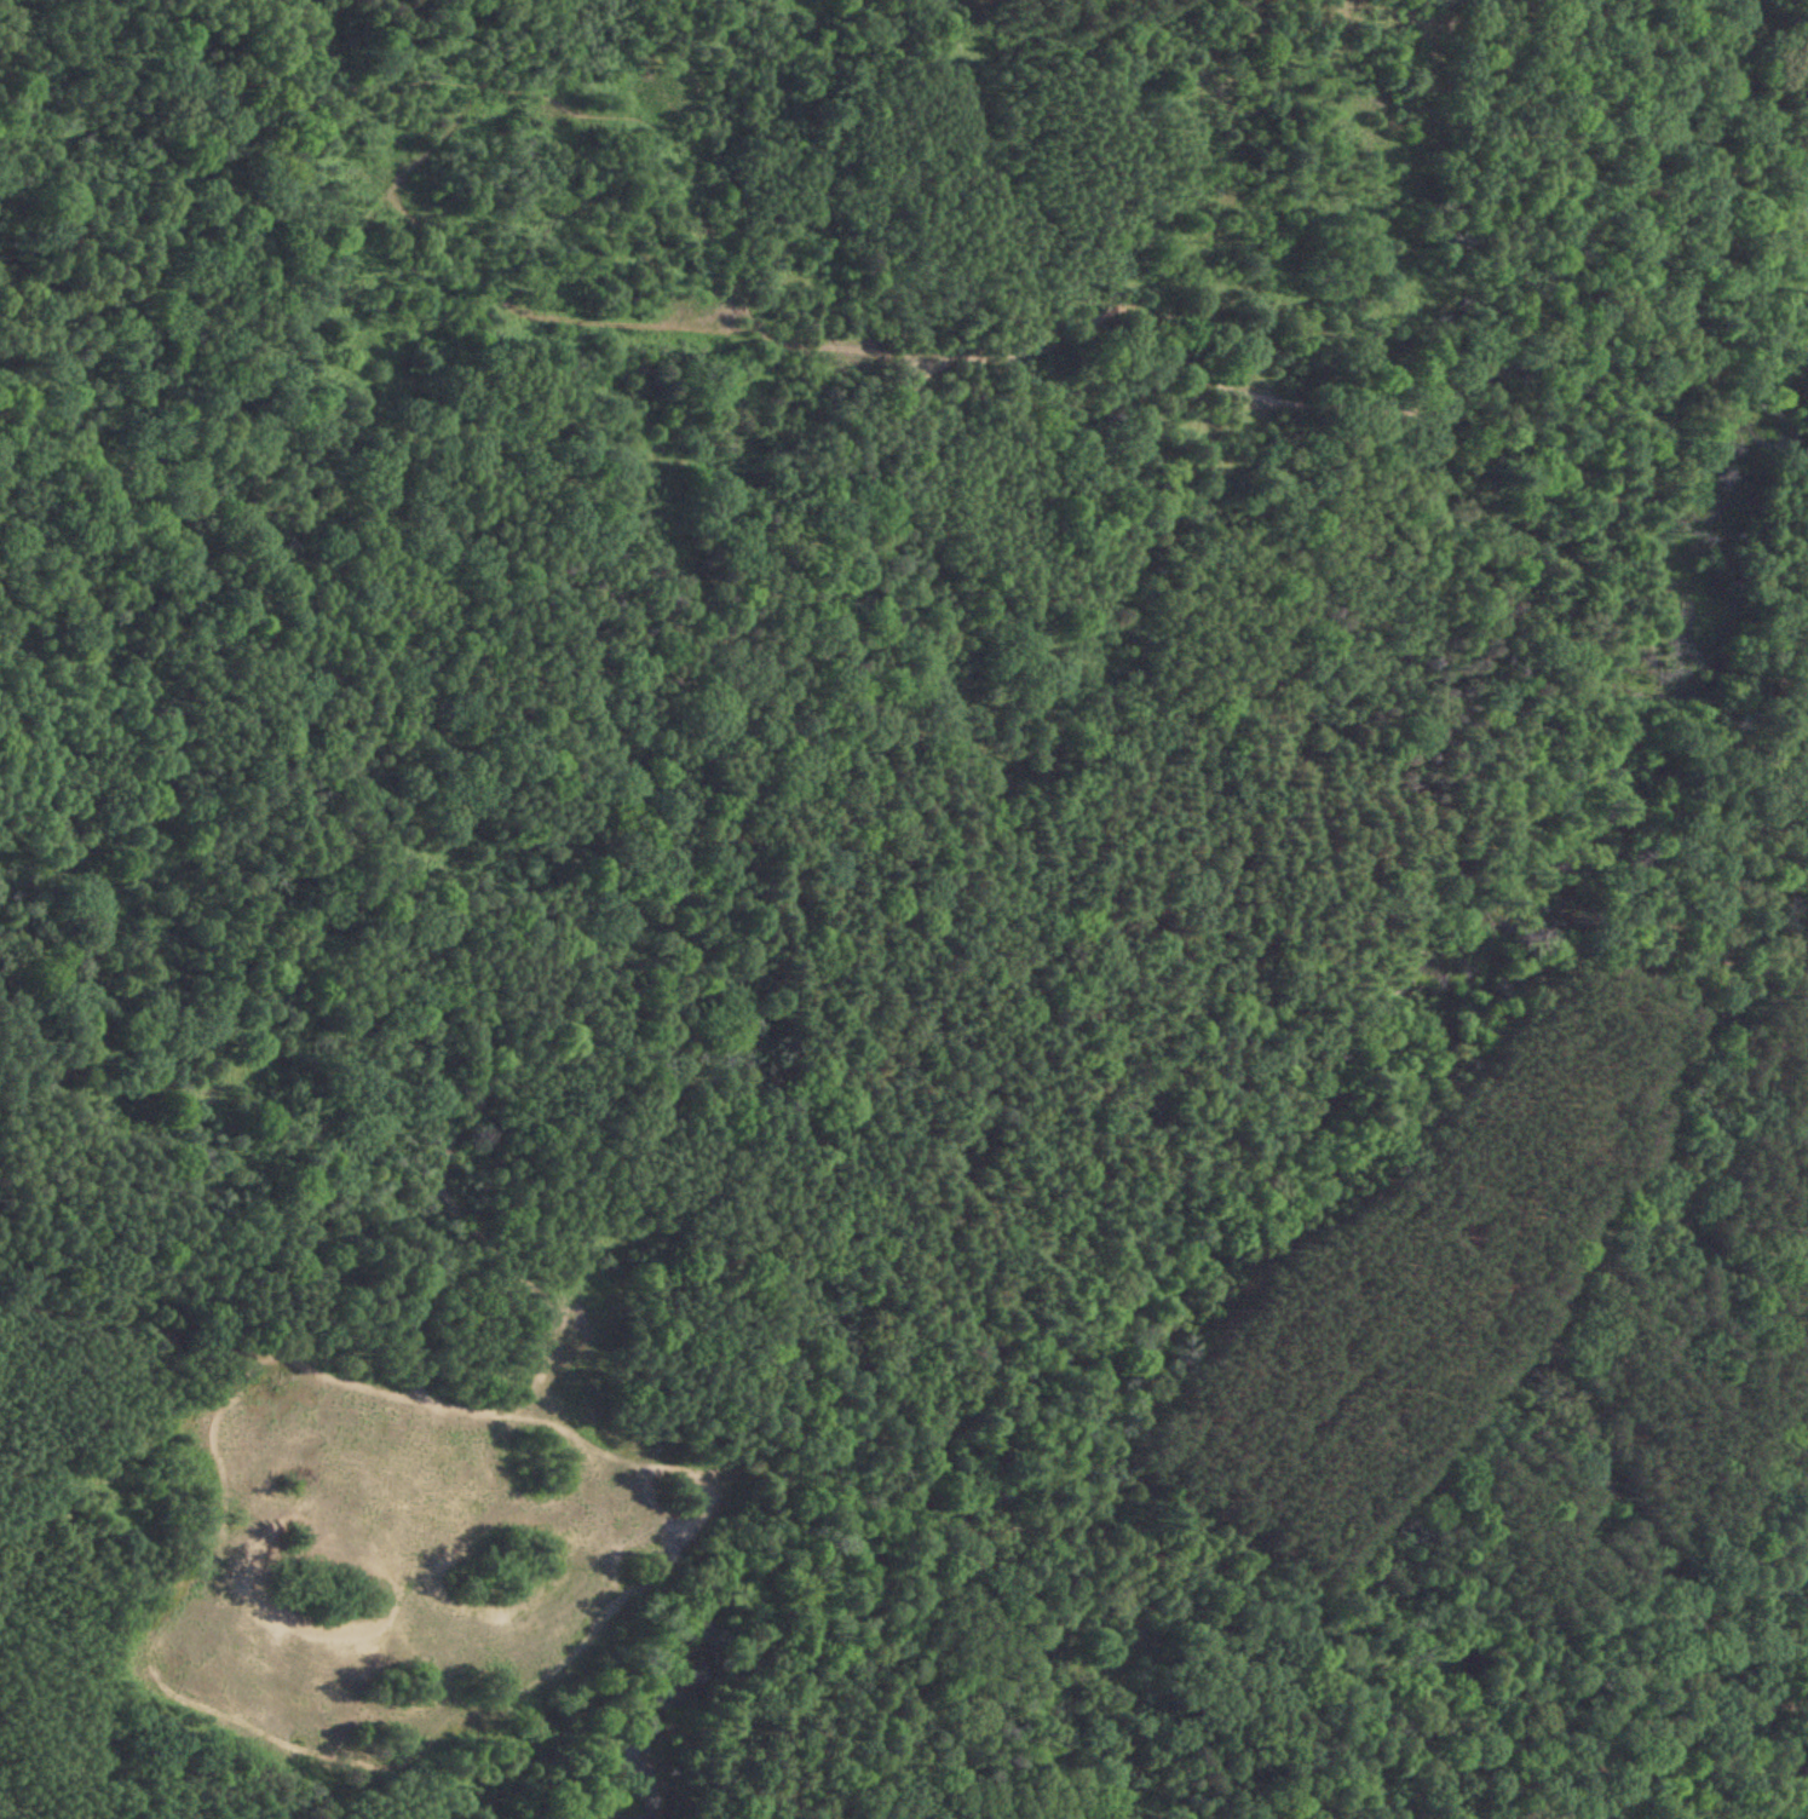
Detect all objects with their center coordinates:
road: (621, 123)
road: (127, 136)
road: (447, 289)
road: (923, 551)
road: (806, 948)
road: (1535, 1335)
road: (1041, 1431)
road: (1317, 1593)
road: (1286, 1635)
road: (1801, 1758)

